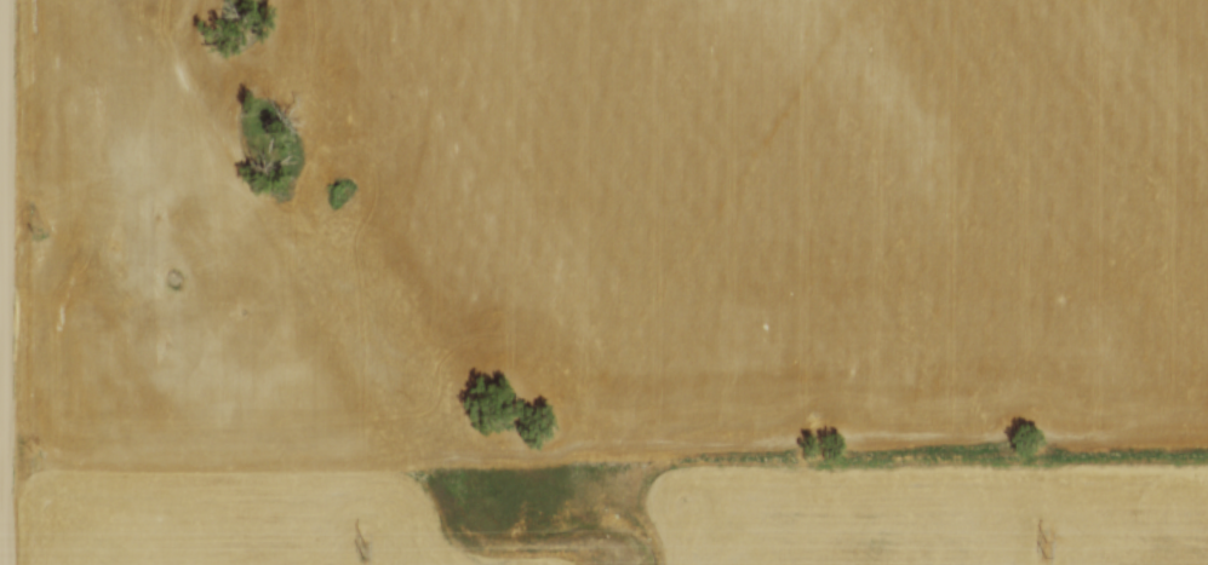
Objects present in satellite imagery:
crop: (792, 204)
road: (5, 282)
road: (2, 300)
crop: (190, 335)
road: (2, 455)
crop: (934, 520)
power tower: (363, 547)
power tower: (1047, 547)

